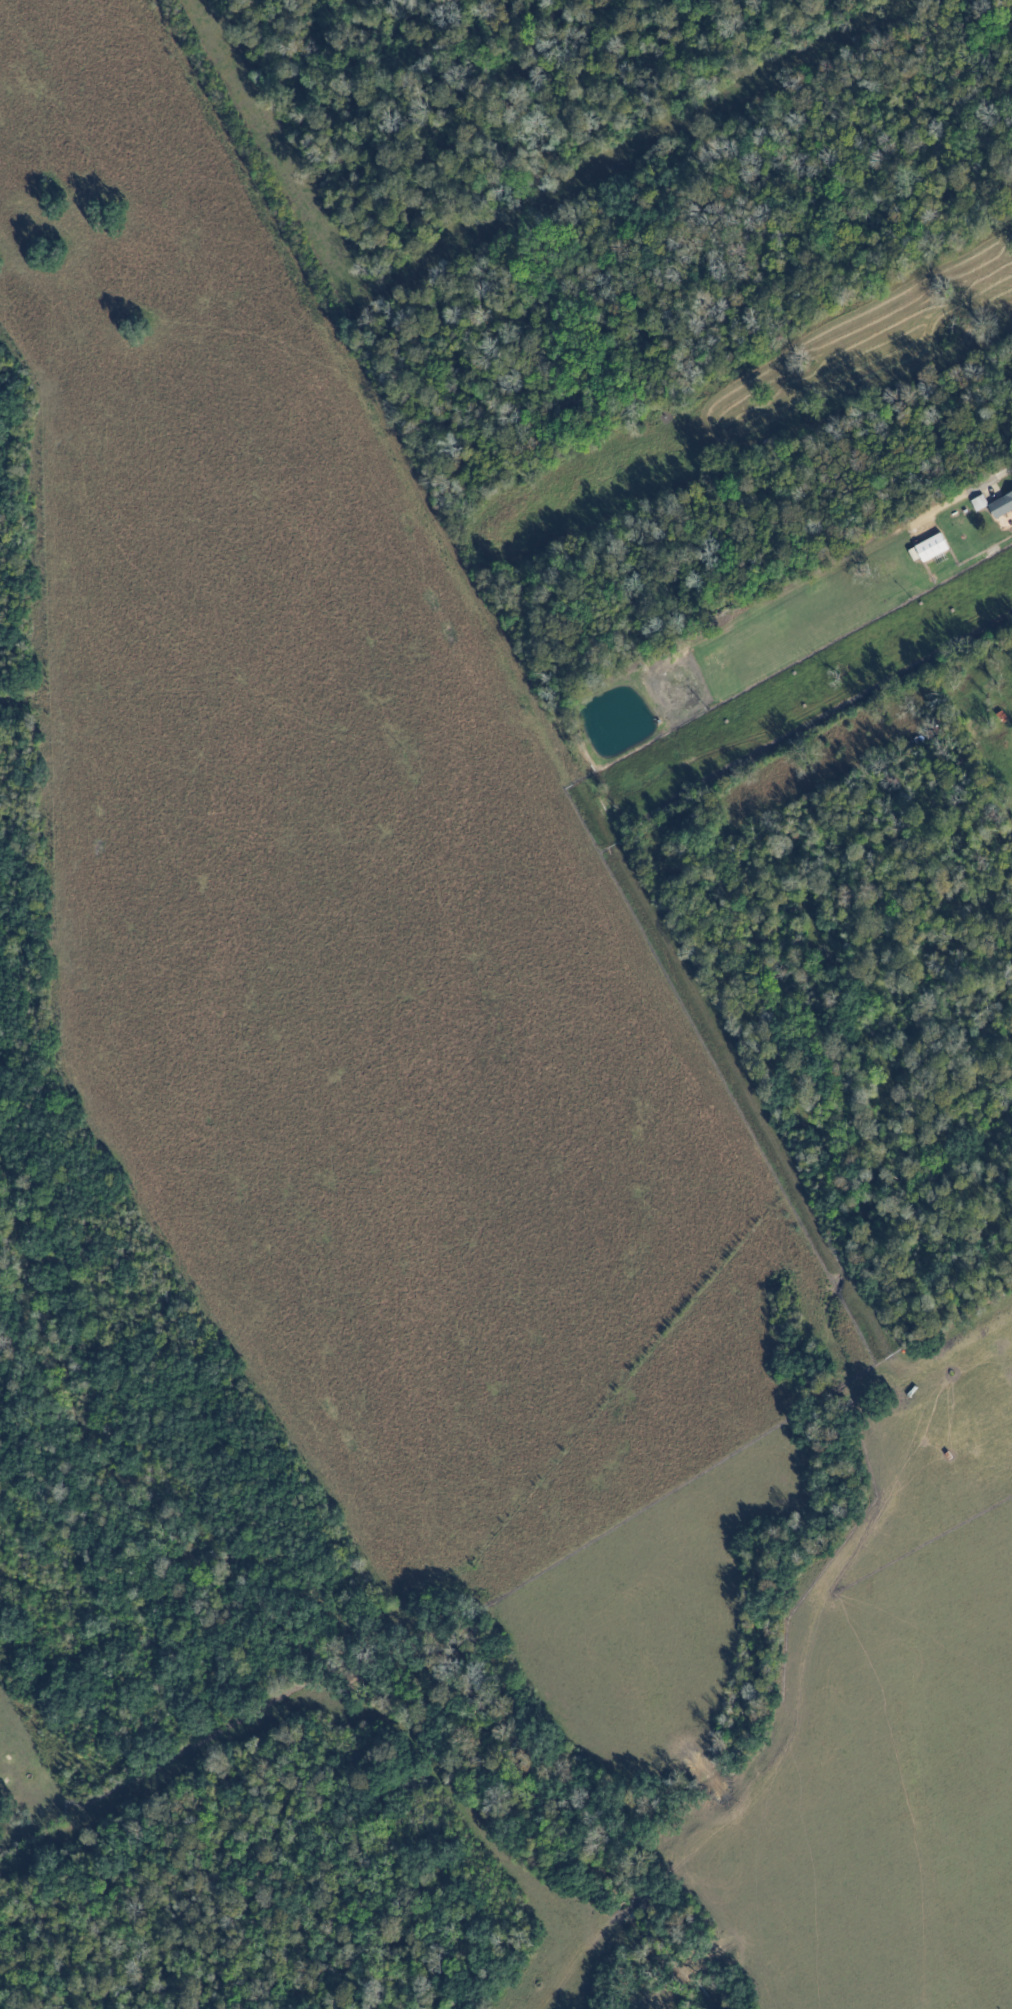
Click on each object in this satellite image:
road: (1000, 477)
building: (978, 504)
building: (1000, 506)
building: (927, 549)

